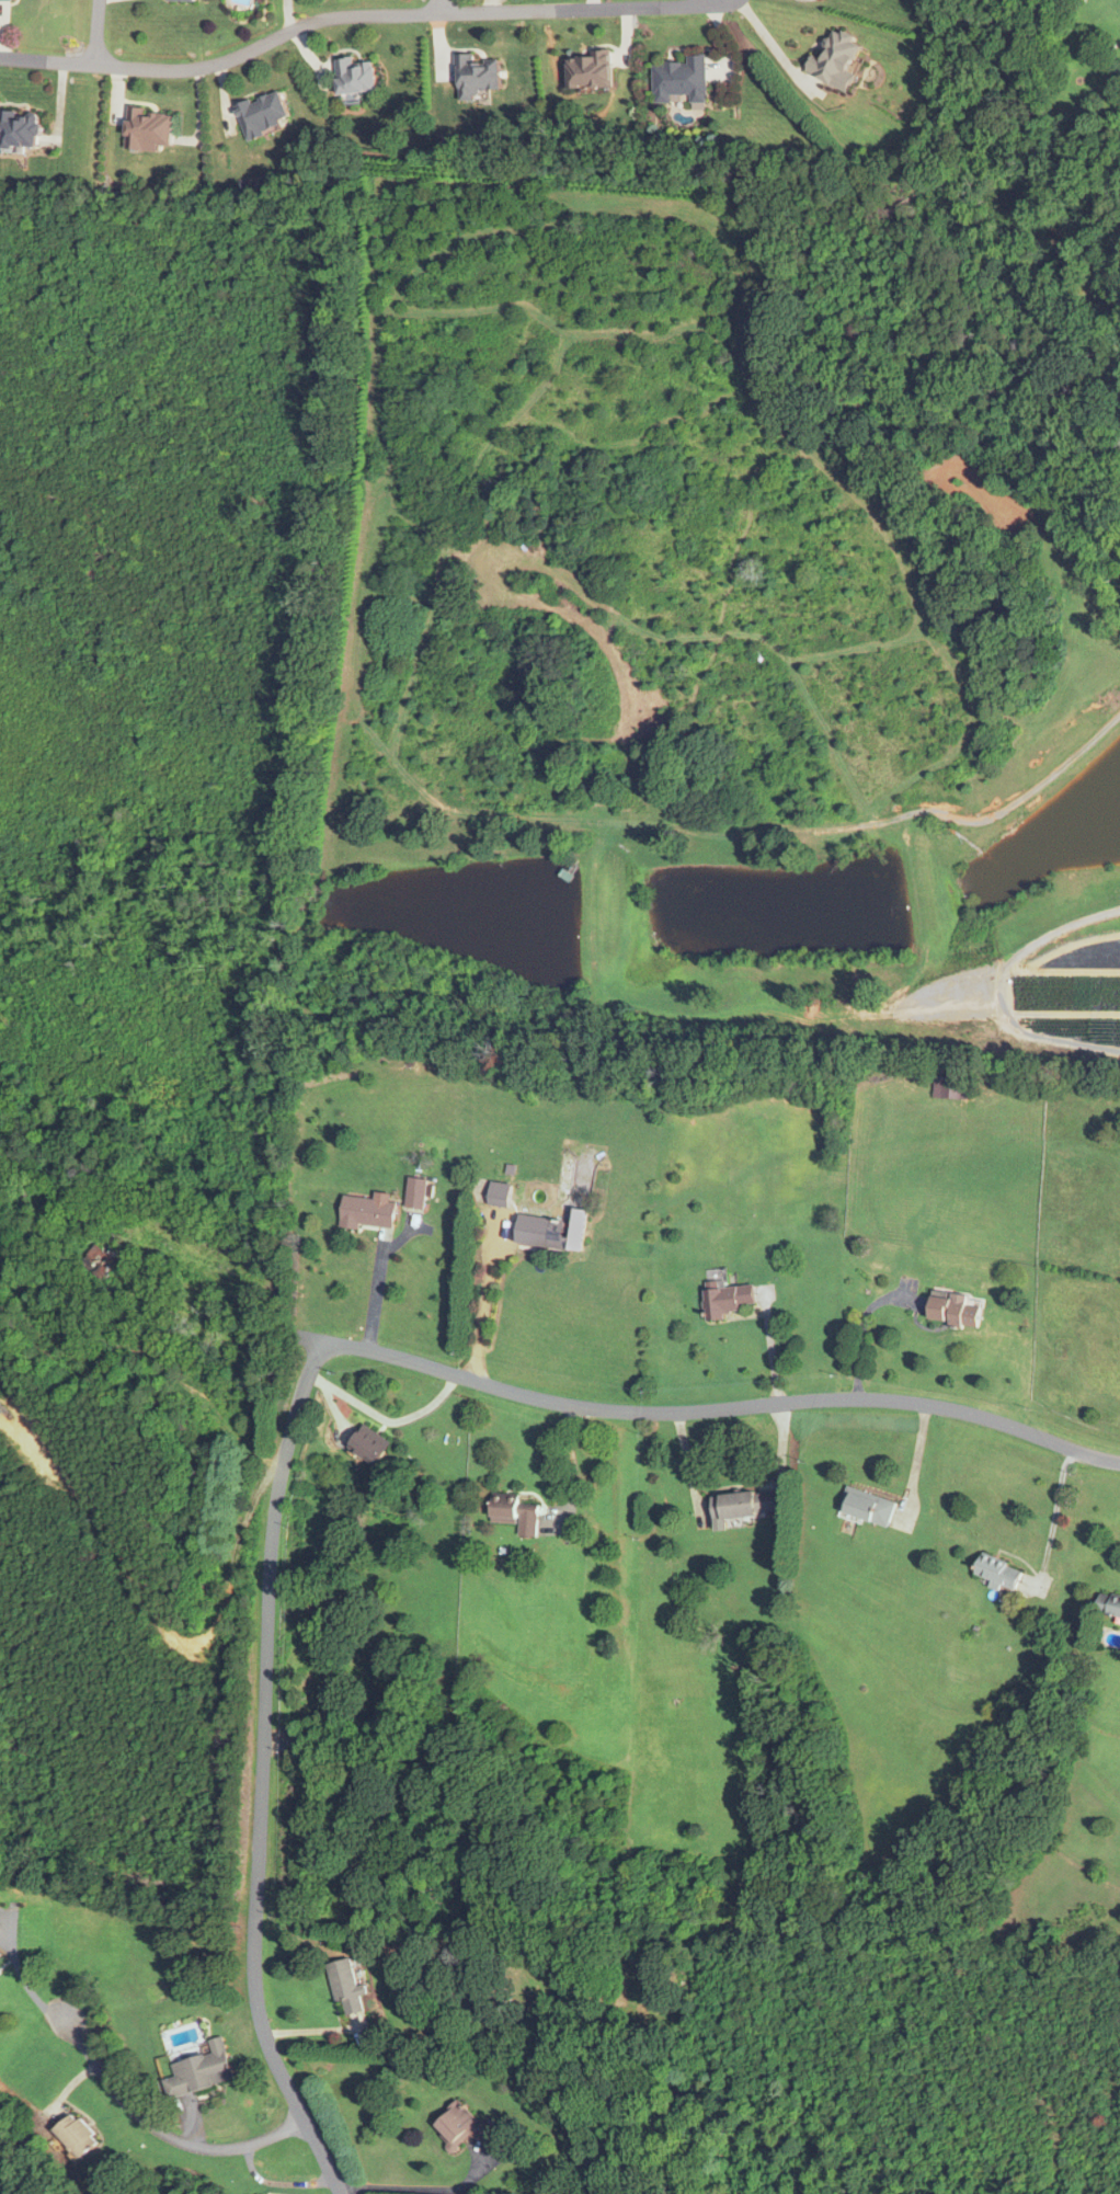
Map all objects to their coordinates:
road: (438, 7)
road: (351, 18)
road: (96, 33)
road: (775, 46)
building: (478, 75)
building: (355, 76)
building: (681, 79)
building: (262, 114)
building: (19, 128)
building: (948, 1082)
building: (415, 1192)
building: (500, 1193)
building: (366, 1212)
building: (545, 1233)
building: (101, 1265)
building: (725, 1299)
building: (957, 1311)
road: (697, 1412)
building: (370, 1444)
building: (745, 1505)
building: (869, 1506)
road: (1055, 1512)
building: (516, 1513)
building: (1001, 1573)
building: (1109, 1603)
road: (264, 1735)
building: (0, 1952)
building: (347, 1985)
building: (199, 2070)
building: (464, 2125)
road: (160, 2129)
building: (78, 2134)
road: (423, 2190)

